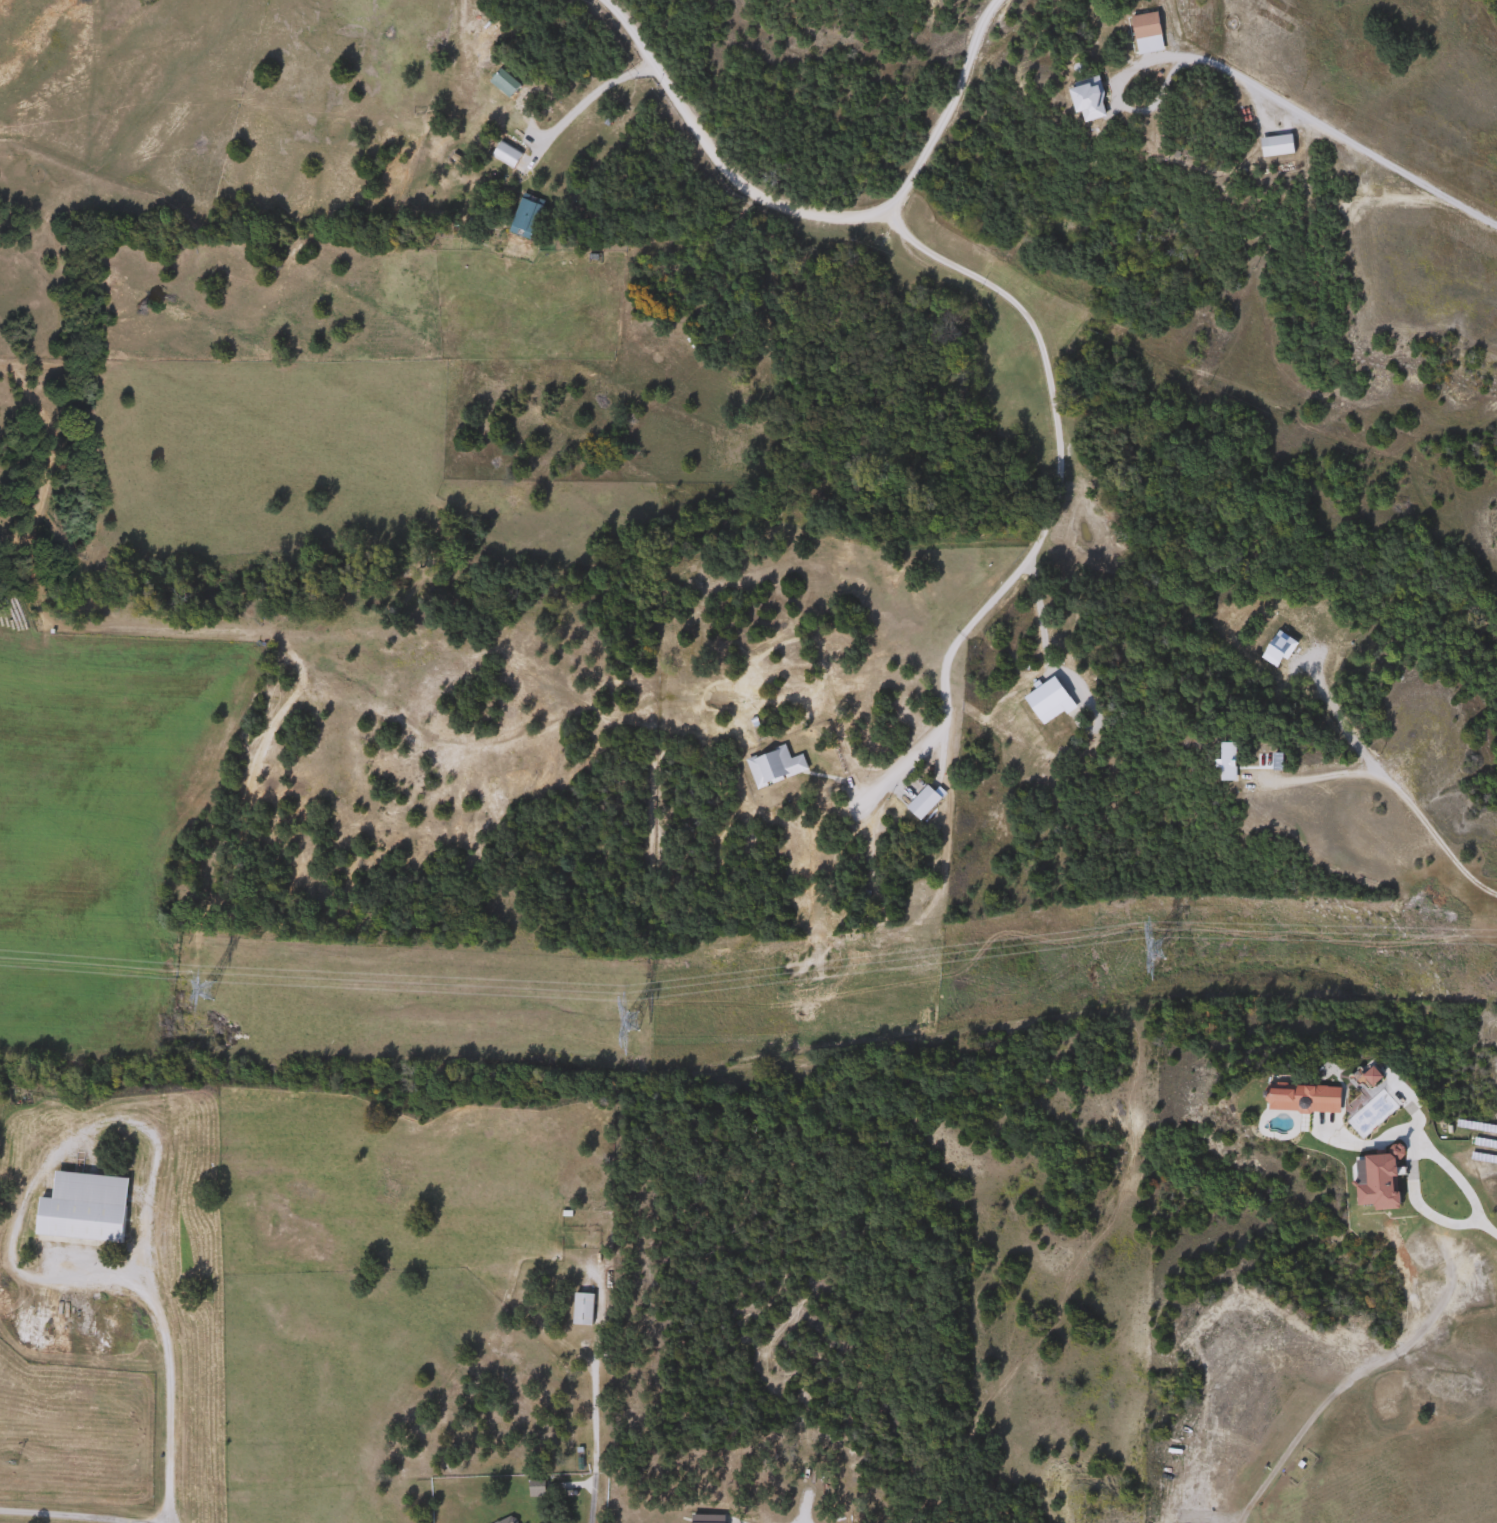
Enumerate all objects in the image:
building: (1149, 26)
road: (587, 100)
road: (1316, 122)
building: (1282, 146)
building: (508, 156)
building: (529, 214)
road: (811, 214)
road: (1055, 448)
road: (1338, 720)
building: (776, 765)
road: (1394, 791)
power tower: (1157, 951)
power tower: (206, 991)
power tower: (630, 1021)
building: (1382, 1075)
building: (1386, 1179)
road: (1466, 1196)
building: (87, 1208)
building: (585, 1308)
road: (1363, 1367)
road: (164, 1405)
building: (538, 1488)
road: (68, 1517)
building: (511, 1520)

